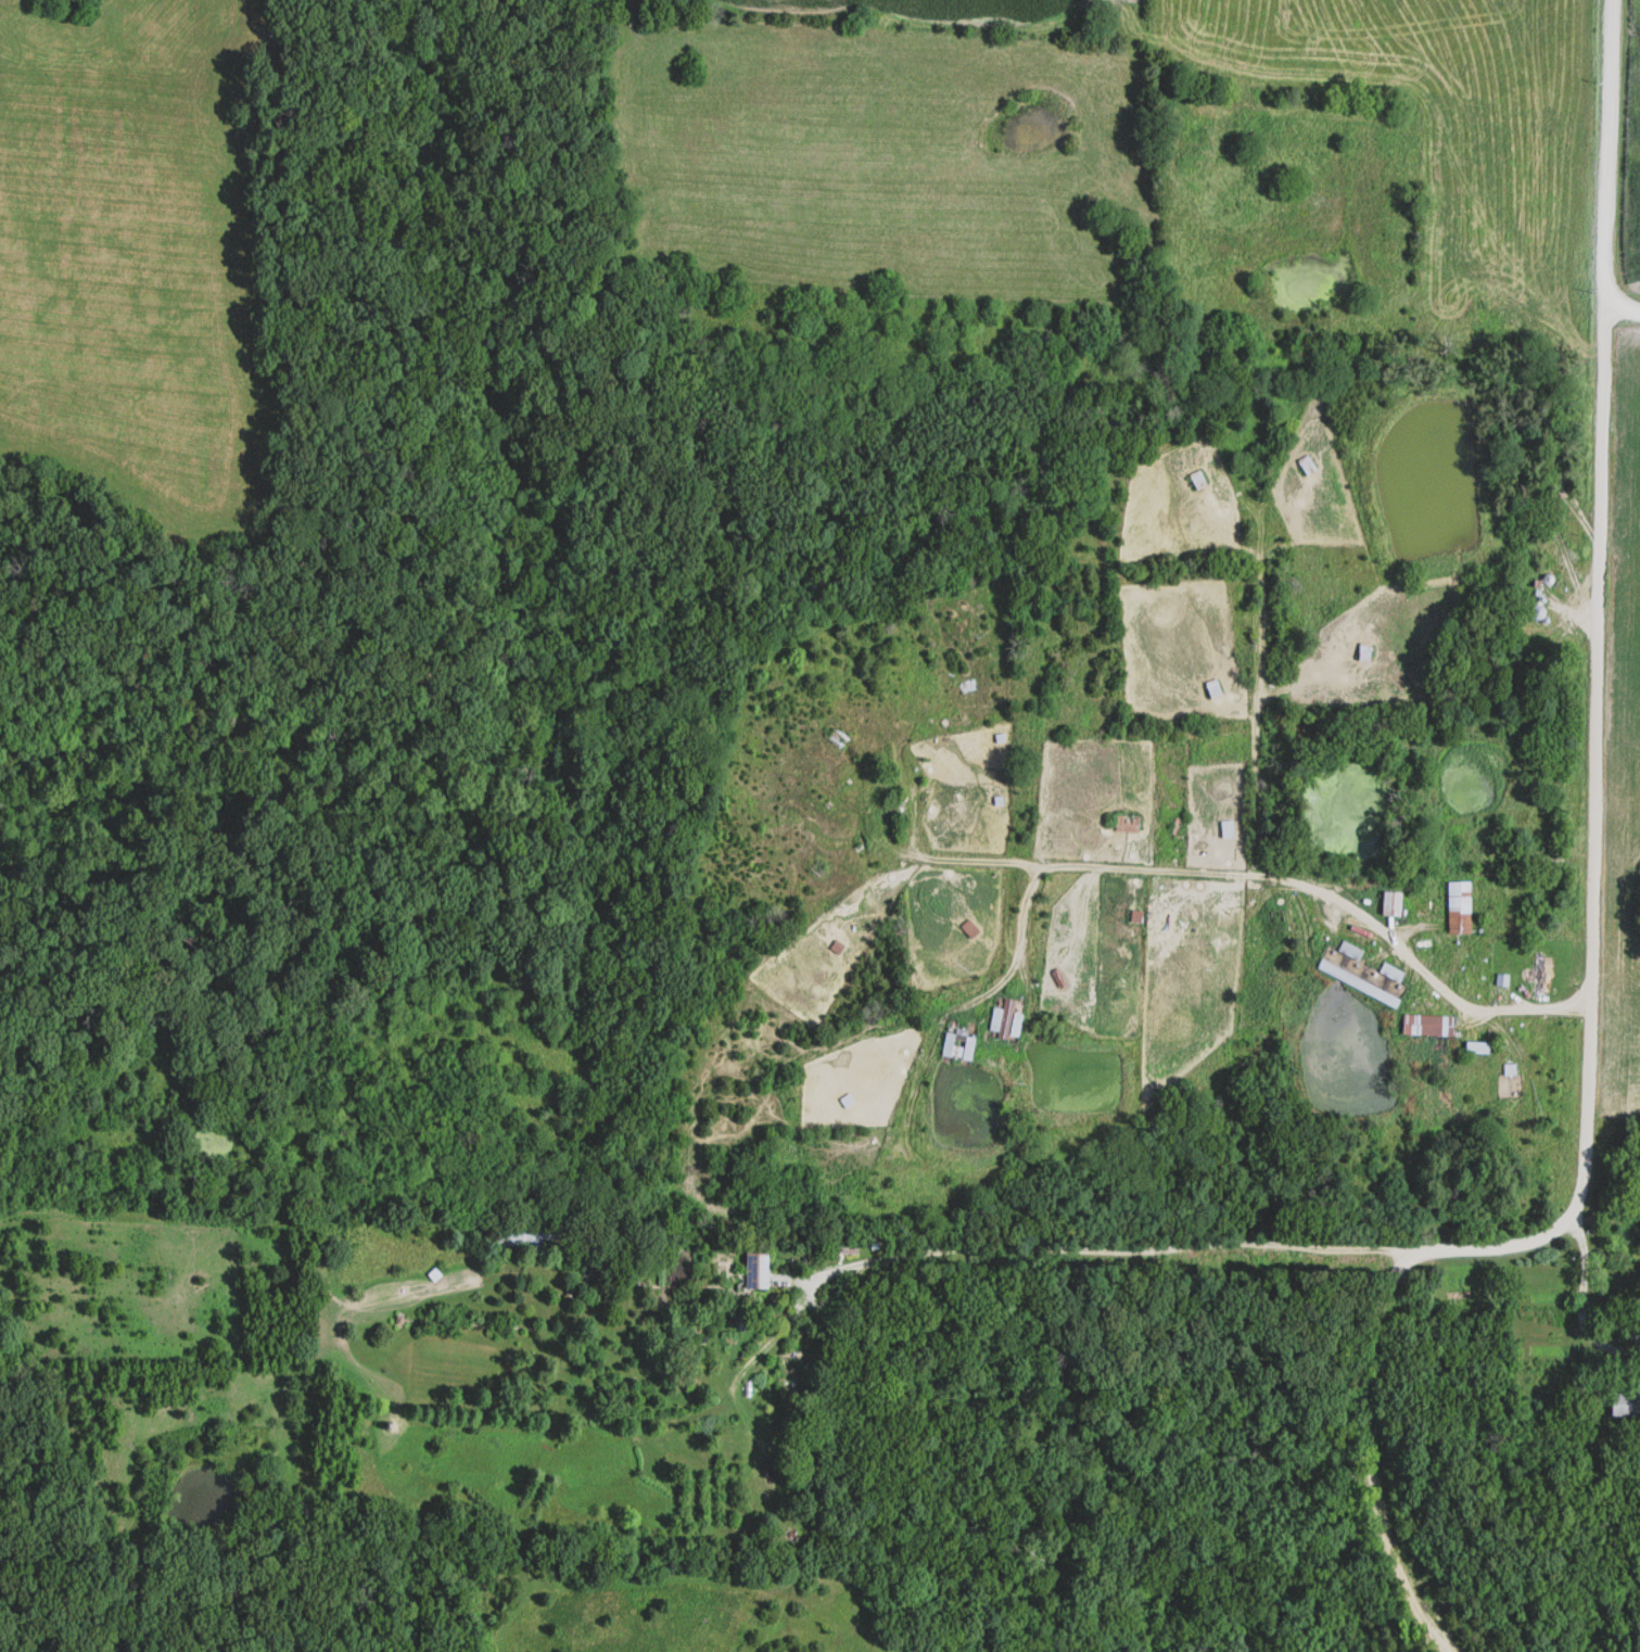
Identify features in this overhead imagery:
road: (1620, 308)
building: (1302, 465)
building: (1200, 479)
building: (1548, 513)
building: (1540, 582)
building: (1528, 613)
building: (1361, 652)
building: (1215, 688)
building: (841, 741)
building: (1222, 830)
building: (1386, 905)
building: (1453, 908)
road: (1591, 908)
building: (1345, 952)
building: (1386, 974)
building: (1535, 975)
building: (1352, 984)
building: (1003, 1019)
building: (1422, 1027)
building: (962, 1044)
building: (1470, 1049)
building: (530, 1234)
road: (1096, 1249)
building: (763, 1269)
road: (1576, 1305)
building: (1618, 1403)

